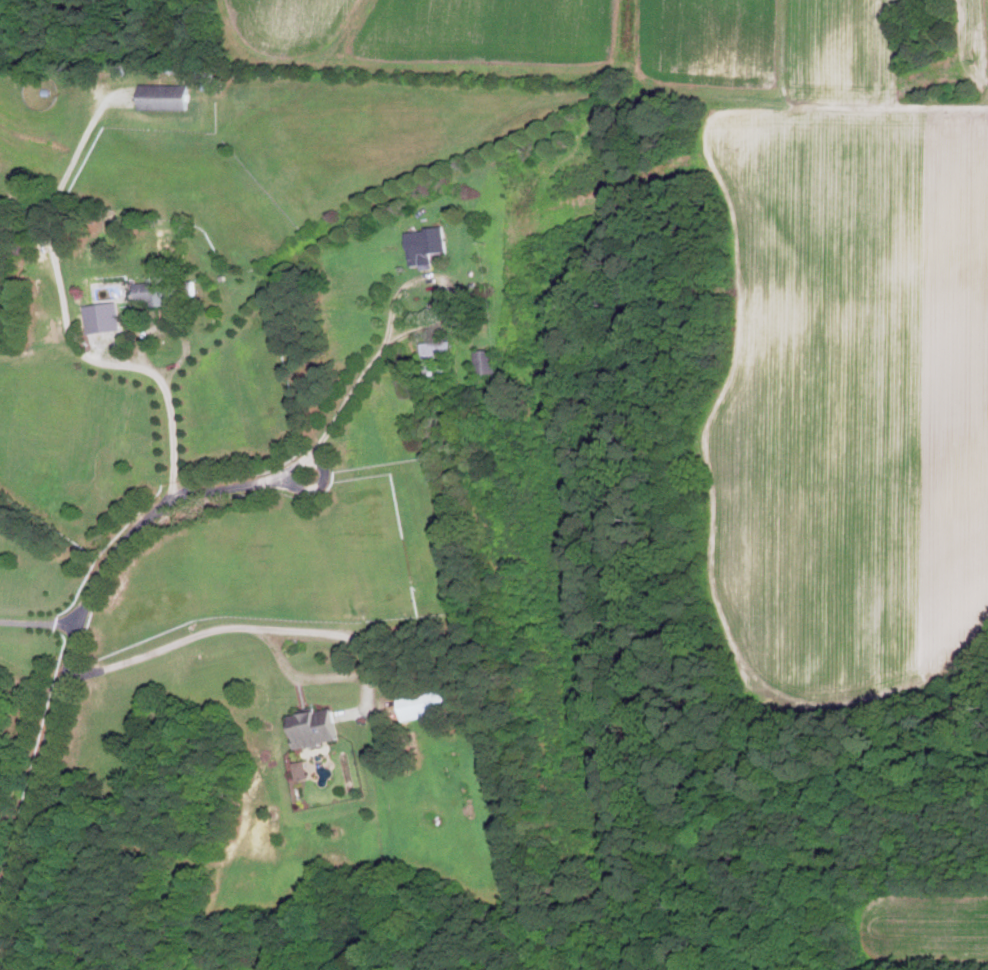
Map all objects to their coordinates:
building: (165, 95)
building: (426, 245)
building: (158, 290)
building: (99, 311)
road: (392, 315)
building: (438, 347)
building: (487, 361)
road: (172, 368)
road: (39, 621)
road: (78, 625)
road: (218, 627)
building: (428, 703)
building: (318, 727)
building: (302, 770)

